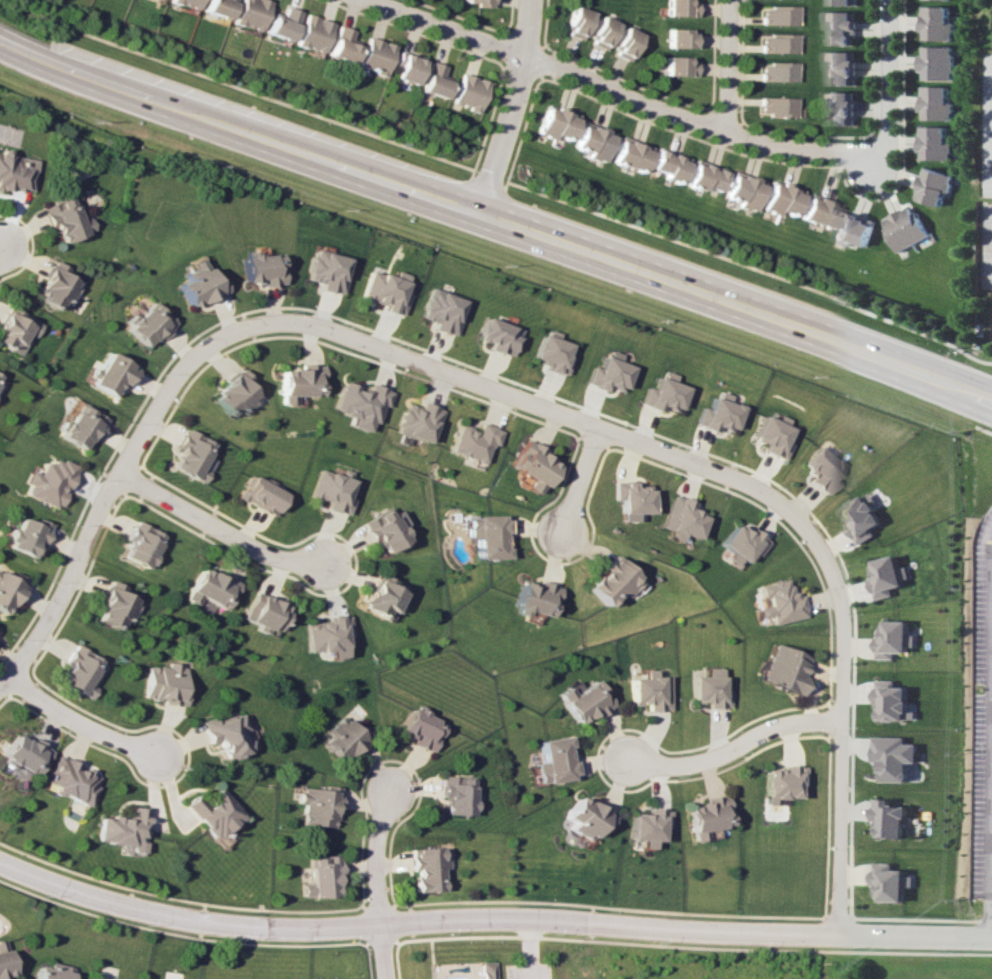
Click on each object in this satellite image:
building: (949, 0)
building: (845, 2)
building: (186, 3)
building: (479, 3)
building: (217, 7)
building: (678, 8)
building: (249, 13)
building: (776, 15)
building: (280, 23)
building: (575, 23)
building: (939, 23)
building: (843, 27)
building: (600, 32)
building: (311, 33)
building: (678, 38)
building: (624, 42)
building: (775, 43)
building: (341, 44)
building: (373, 55)
building: (939, 62)
building: (677, 66)
road: (722, 66)
building: (406, 67)
building: (842, 67)
building: (775, 72)
road: (889, 75)
building: (434, 80)
building: (468, 92)
road: (624, 95)
building: (938, 103)
road: (506, 105)
building: (775, 106)
building: (840, 107)
building: (556, 123)
building: (592, 141)
building: (936, 143)
building: (630, 154)
building: (668, 164)
building: (16, 172)
building: (705, 176)
building: (934, 186)
building: (742, 190)
building: (780, 198)
building: (819, 210)
road: (496, 218)
building: (66, 219)
building: (904, 228)
building: (854, 229)
building: (260, 268)
building: (324, 270)
building: (199, 286)
building: (56, 287)
building: (383, 291)
building: (438, 310)
building: (148, 324)
building: (16, 329)
building: (494, 335)
building: (548, 352)
building: (607, 372)
building: (0, 374)
building: (112, 374)
building: (234, 394)
building: (660, 394)
road: (524, 402)
building: (359, 404)
building: (717, 414)
building: (414, 421)
building: (82, 426)
building: (772, 435)
building: (471, 442)
building: (192, 455)
building: (529, 465)
building: (820, 469)
building: (51, 482)
road: (581, 482)
building: (331, 490)
building: (260, 494)
building: (629, 500)
building: (679, 518)
building: (863, 518)
road: (211, 526)
building: (383, 530)
building: (485, 535)
building: (29, 536)
building: (143, 544)
building: (741, 544)
building: (889, 576)
building: (609, 581)
building: (213, 587)
building: (10, 591)
building: (381, 596)
building: (531, 598)
building: (778, 602)
building: (117, 606)
building: (263, 612)
building: (326, 635)
building: (896, 639)
building: (782, 668)
building: (81, 671)
building: (165, 683)
building: (708, 688)
building: (649, 691)
building: (583, 700)
building: (895, 701)
road: (74, 723)
building: (422, 728)
building: (224, 734)
building: (341, 739)
road: (734, 750)
building: (24, 755)
building: (896, 757)
building: (555, 759)
building: (70, 780)
building: (778, 783)
building: (460, 794)
building: (317, 806)
building: (211, 813)
building: (706, 816)
building: (585, 817)
building: (891, 818)
building: (646, 826)
building: (121, 829)
road: (990, 863)
building: (430, 867)
building: (320, 876)
building: (891, 882)
road: (381, 883)
road: (491, 930)
building: (488, 970)
building: (51, 971)

